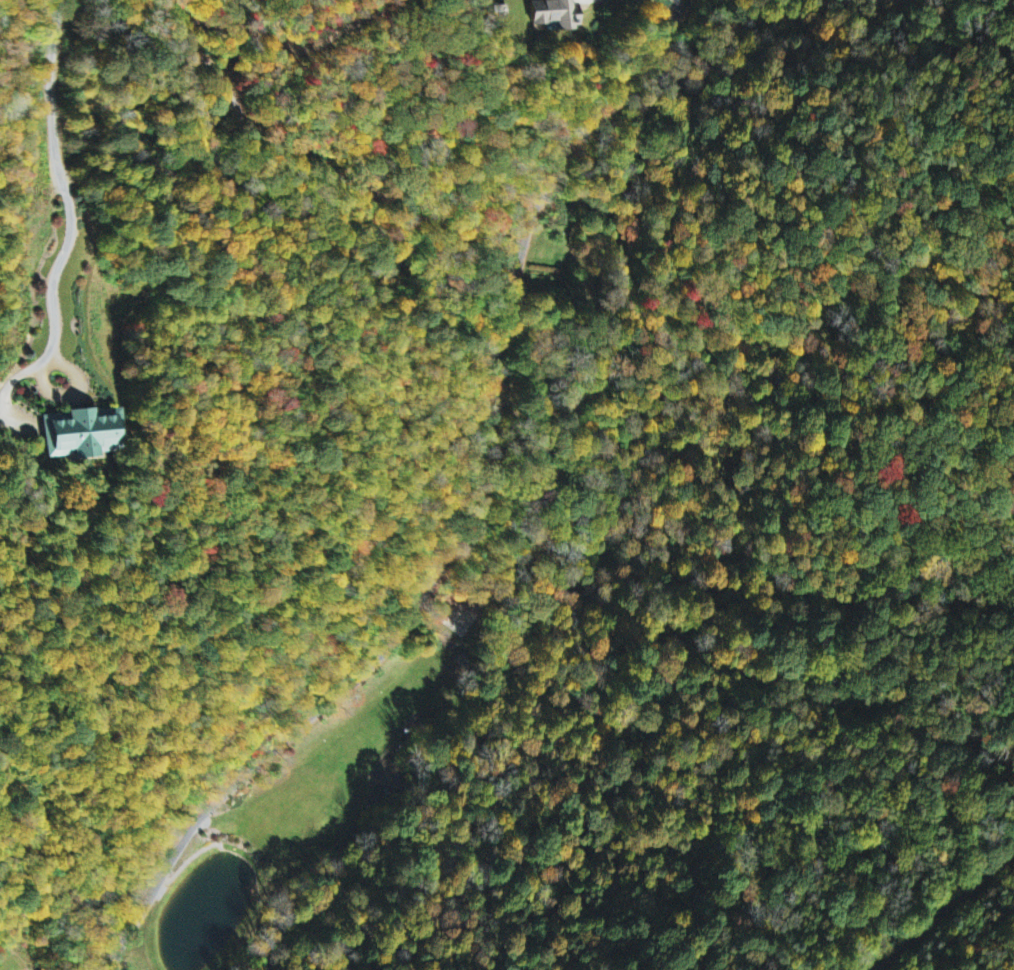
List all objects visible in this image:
building: (556, 12)
road: (510, 300)
road: (504, 327)
building: (76, 434)
road: (357, 677)
road: (948, 908)

